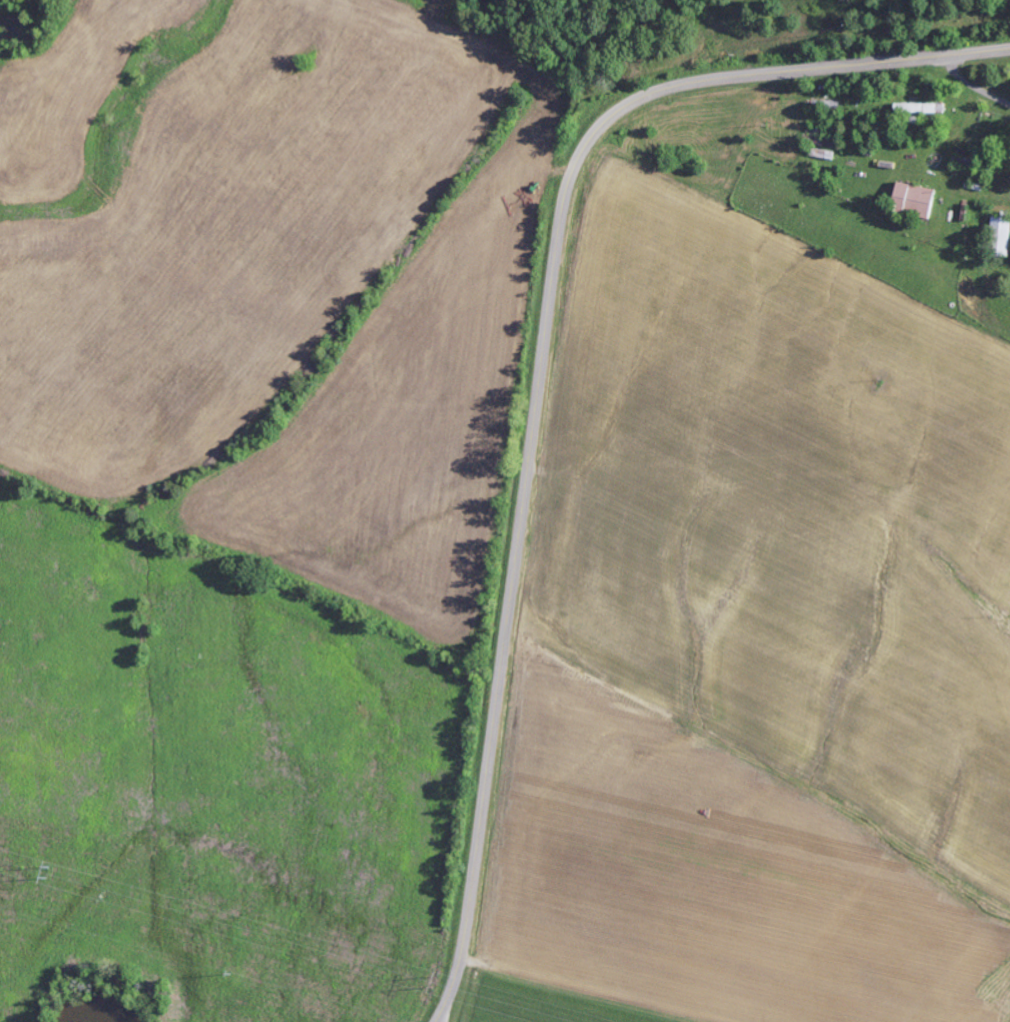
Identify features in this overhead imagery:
building: (921, 108)
building: (917, 200)
building: (1002, 237)
road: (541, 363)
power tower: (52, 871)
power tower: (435, 979)

